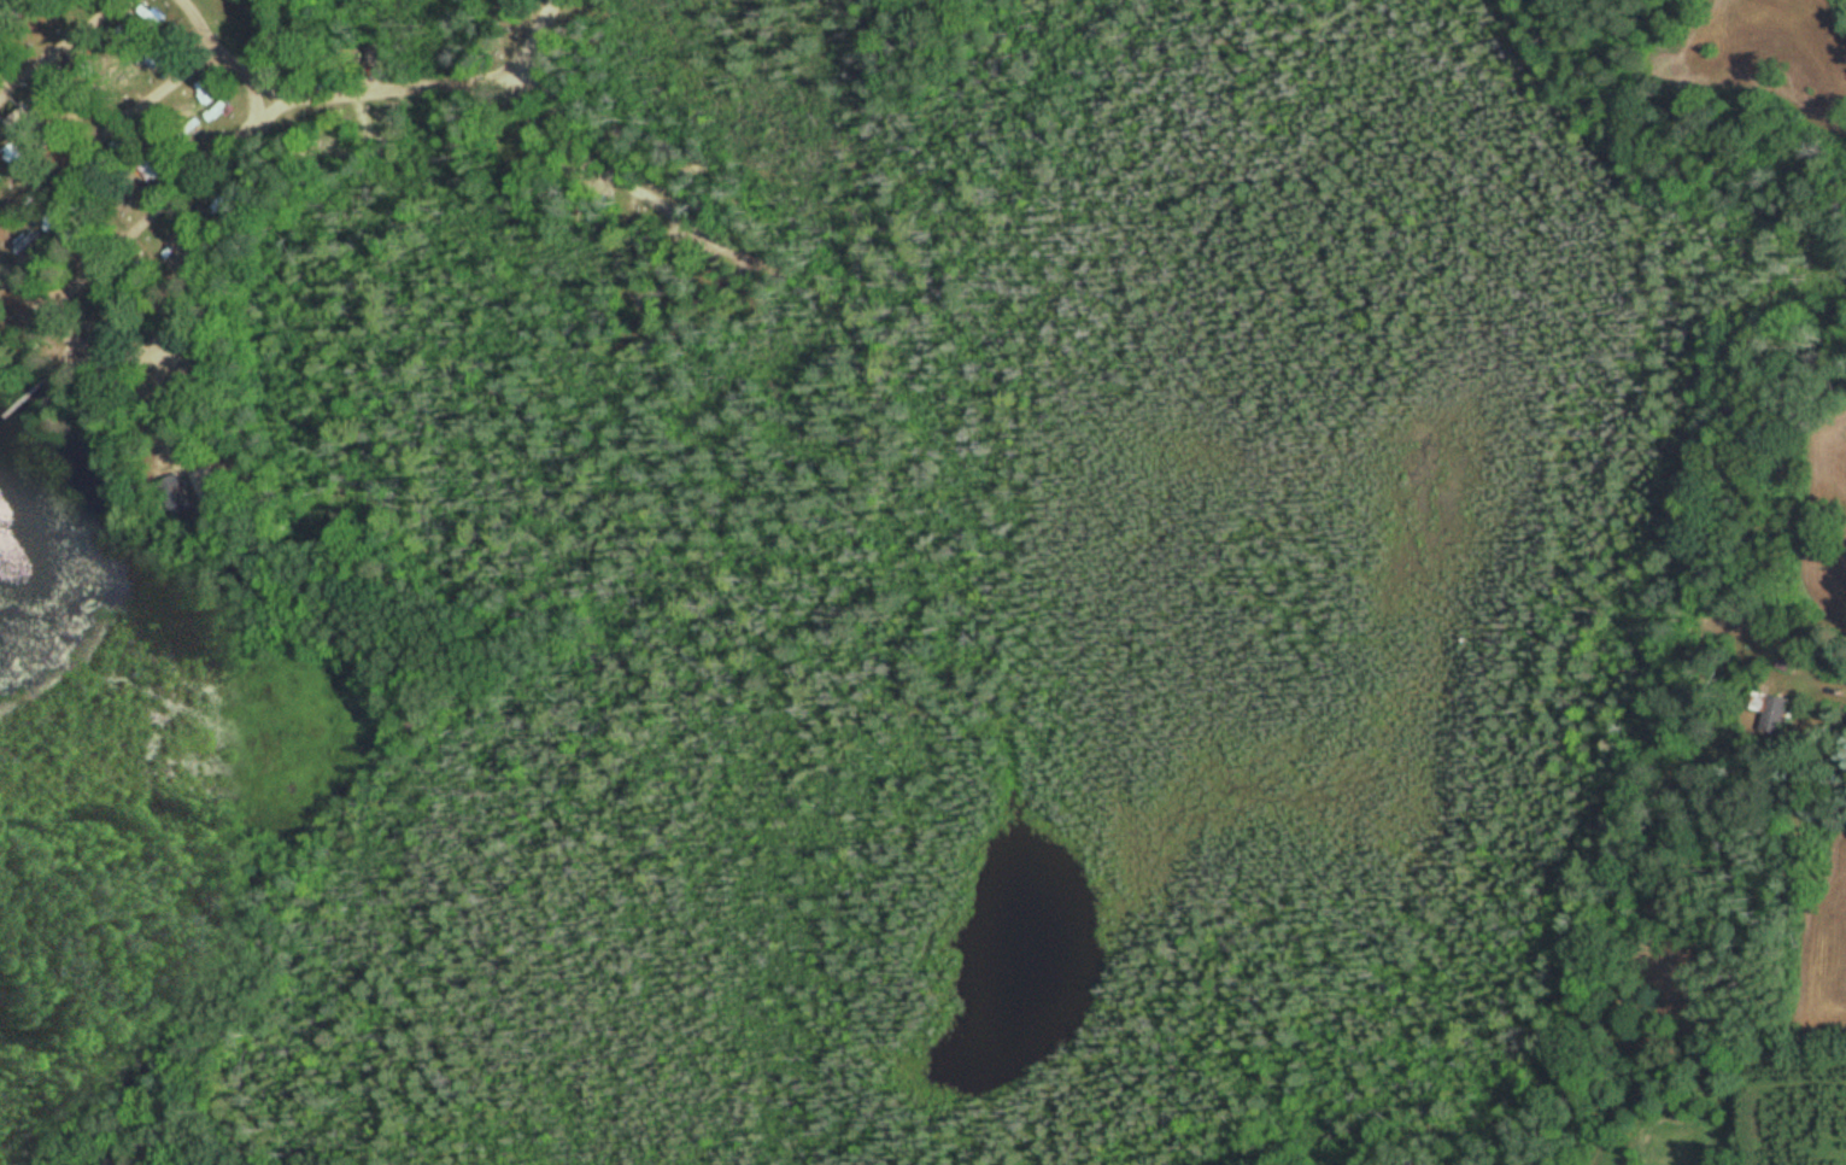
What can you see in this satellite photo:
road: (420, 40)
road: (42, 49)

